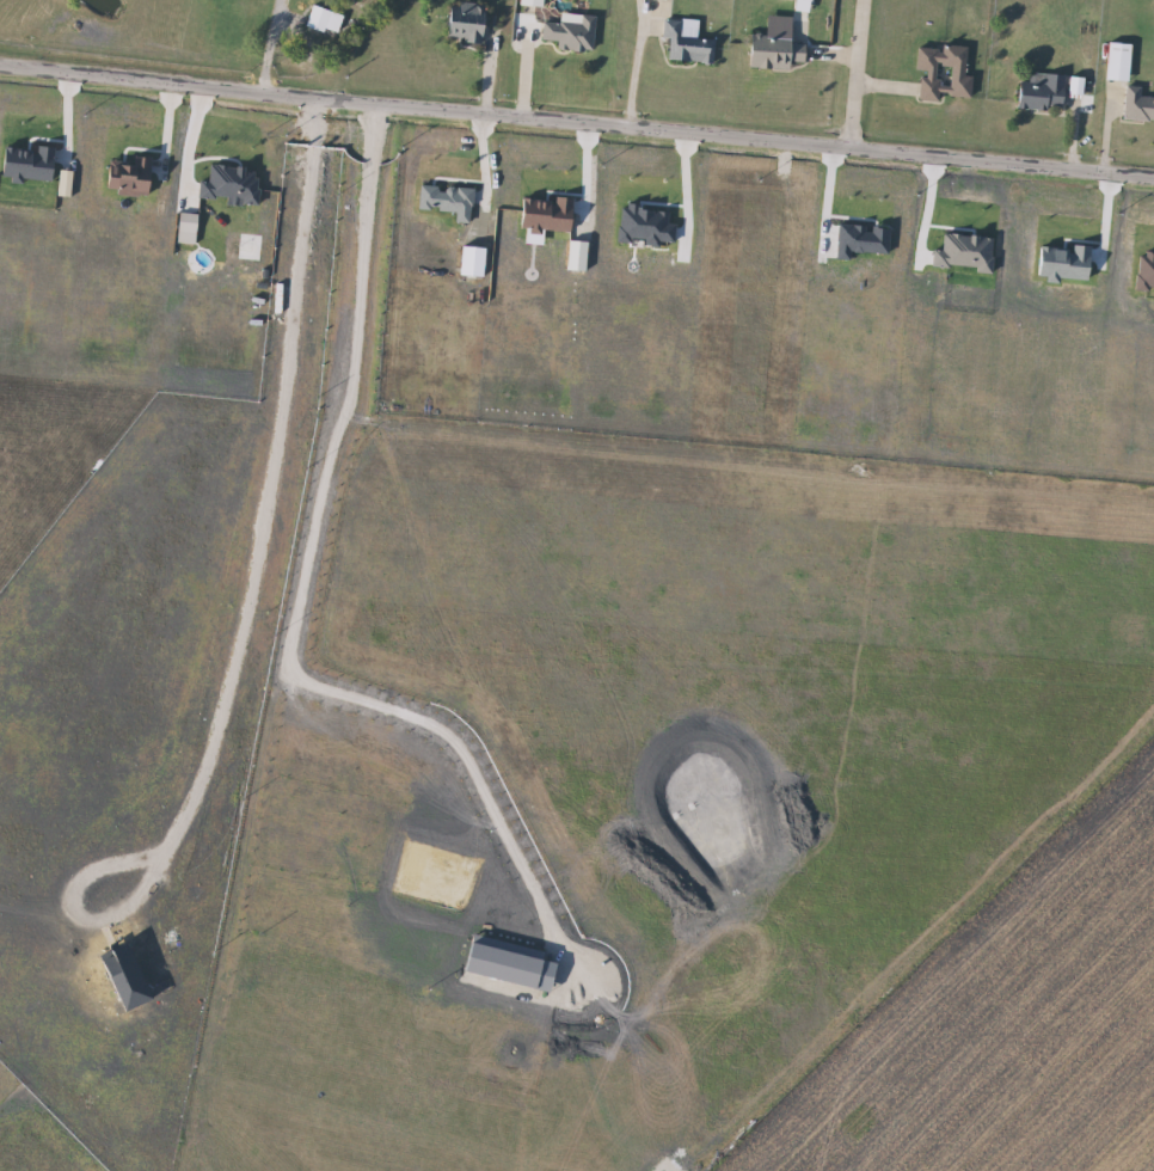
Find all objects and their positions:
building: (534, 2)
building: (326, 19)
building: (572, 32)
building: (687, 43)
road: (262, 49)
building: (778, 51)
building: (1119, 62)
building: (944, 72)
road: (630, 75)
road: (857, 78)
building: (1044, 92)
building: (1137, 104)
road: (576, 131)

